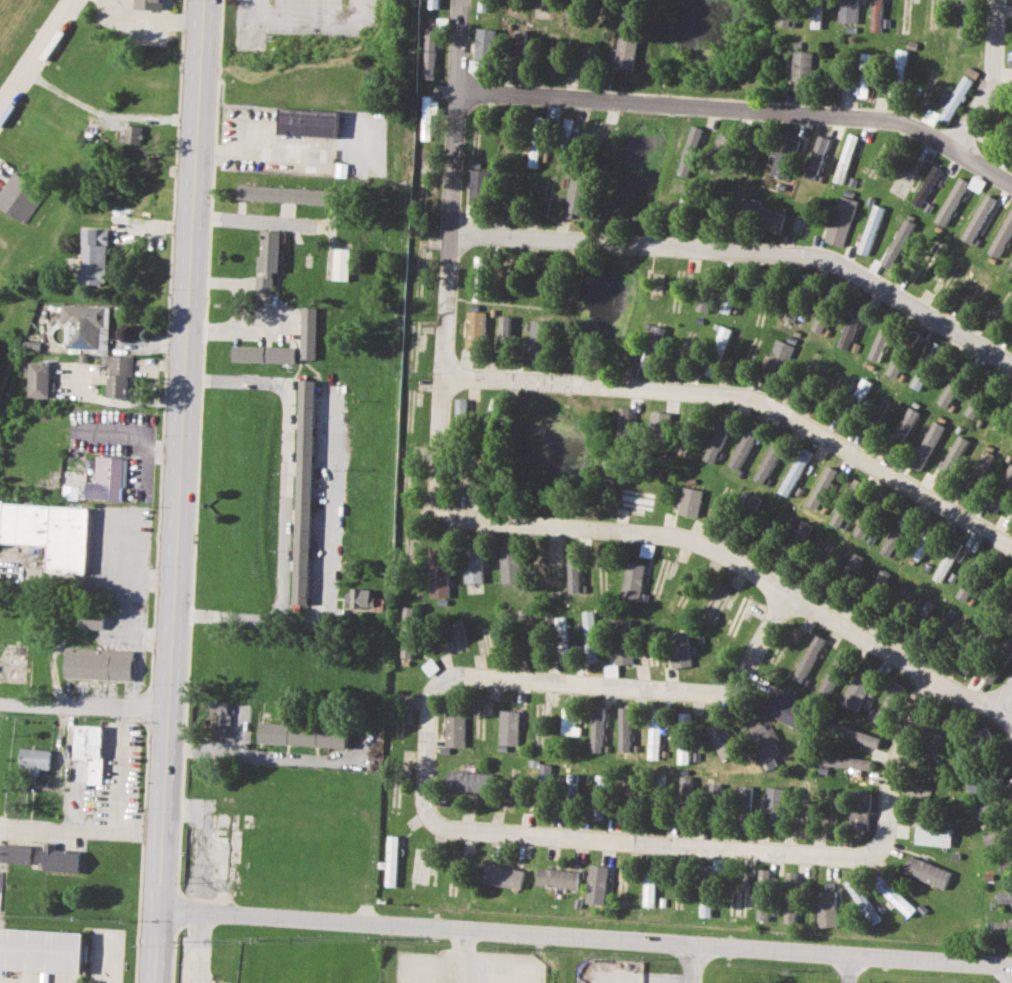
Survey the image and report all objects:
building: (149, 4)
building: (433, 4)
building: (483, 5)
building: (571, 7)
building: (784, 12)
building: (815, 14)
building: (876, 15)
road: (276, 18)
road: (340, 19)
building: (627, 19)
building: (963, 19)
road: (153, 20)
building: (521, 38)
building: (485, 44)
building: (626, 53)
road: (38, 59)
building: (476, 66)
building: (801, 70)
building: (898, 74)
building: (862, 78)
road: (992, 78)
road: (1002, 84)
building: (949, 101)
road: (741, 108)
building: (427, 116)
road: (109, 118)
building: (307, 121)
building: (538, 124)
building: (132, 133)
building: (690, 151)
building: (720, 152)
road: (257, 153)
building: (533, 155)
building: (784, 156)
building: (816, 157)
building: (845, 157)
building: (478, 180)
building: (976, 183)
building: (926, 186)
building: (285, 194)
building: (688, 196)
building: (19, 197)
building: (577, 197)
building: (951, 201)
building: (760, 214)
building: (979, 218)
building: (840, 220)
road: (253, 222)
building: (870, 229)
building: (1002, 236)
road: (746, 252)
building: (95, 255)
road: (451, 255)
building: (267, 259)
building: (340, 263)
building: (1011, 264)
building: (478, 265)
building: (658, 282)
building: (706, 289)
building: (727, 300)
road: (239, 308)
building: (789, 311)
building: (820, 320)
building: (85, 327)
building: (475, 329)
building: (849, 329)
building: (506, 331)
building: (307, 332)
building: (881, 338)
building: (720, 341)
building: (651, 345)
building: (936, 351)
building: (262, 353)
building: (778, 356)
building: (897, 361)
building: (116, 374)
building: (918, 378)
building: (38, 380)
building: (862, 388)
building: (951, 390)
road: (747, 394)
building: (978, 399)
building: (460, 411)
building: (659, 421)
building: (624, 423)
building: (904, 425)
road: (135, 433)
building: (714, 445)
building: (926, 445)
building: (1011, 445)
building: (742, 448)
road: (285, 452)
building: (950, 458)
building: (770, 459)
building: (88, 463)
building: (980, 466)
building: (794, 471)
building: (105, 479)
building: (821, 487)
building: (69, 491)
road: (182, 491)
building: (302, 492)
building: (636, 502)
building: (691, 502)
building: (845, 503)
building: (863, 526)
building: (802, 531)
building: (48, 532)
building: (921, 545)
road: (747, 563)
building: (852, 564)
building: (473, 565)
building: (944, 565)
building: (573, 569)
building: (439, 573)
road: (321, 576)
road: (121, 580)
building: (632, 580)
building: (967, 585)
building: (360, 598)
building: (719, 603)
building: (60, 617)
building: (89, 619)
building: (1010, 625)
road: (132, 632)
building: (408, 632)
building: (590, 635)
building: (561, 638)
building: (622, 642)
building: (487, 645)
building: (679, 649)
building: (808, 658)
building: (96, 663)
building: (985, 672)
building: (832, 673)
building: (856, 691)
building: (888, 704)
road: (85, 712)
building: (787, 712)
road: (1010, 712)
building: (219, 719)
building: (570, 720)
building: (510, 727)
building: (456, 728)
building: (624, 729)
road: (237, 731)
building: (654, 733)
building: (302, 734)
building: (853, 734)
building: (722, 739)
building: (763, 739)
building: (984, 740)
building: (936, 742)
building: (87, 750)
road: (273, 757)
building: (32, 759)
building: (844, 762)
road: (120, 773)
building: (544, 773)
building: (469, 781)
building: (977, 784)
building: (685, 786)
building: (920, 791)
building: (599, 796)
building: (744, 797)
building: (774, 803)
building: (859, 810)
building: (986, 810)
road: (94, 832)
road: (488, 833)
building: (932, 835)
building: (995, 837)
building: (14, 853)
building: (56, 858)
building: (392, 860)
building: (926, 871)
building: (503, 876)
building: (557, 878)
building: (601, 887)
building: (648, 888)
building: (762, 894)
building: (893, 896)
building: (1003, 896)
building: (789, 897)
building: (861, 899)
building: (704, 905)
building: (826, 908)
building: (1002, 926)
road: (588, 938)
road: (198, 948)
building: (41, 951)
road: (465, 957)
road: (690, 964)
road: (845, 968)
road: (1009, 974)

